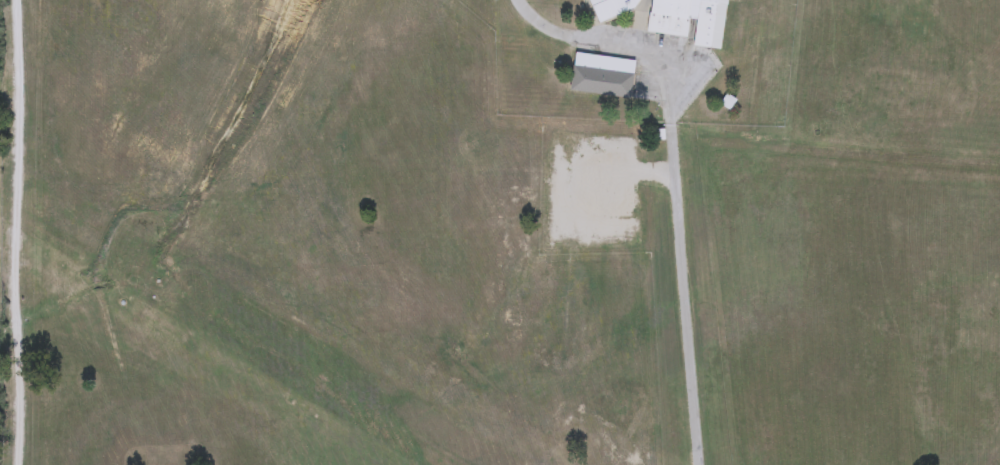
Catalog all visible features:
building: (613, 8)
building: (684, 19)
building: (603, 77)
road: (627, 174)
road: (676, 182)
road: (16, 232)

